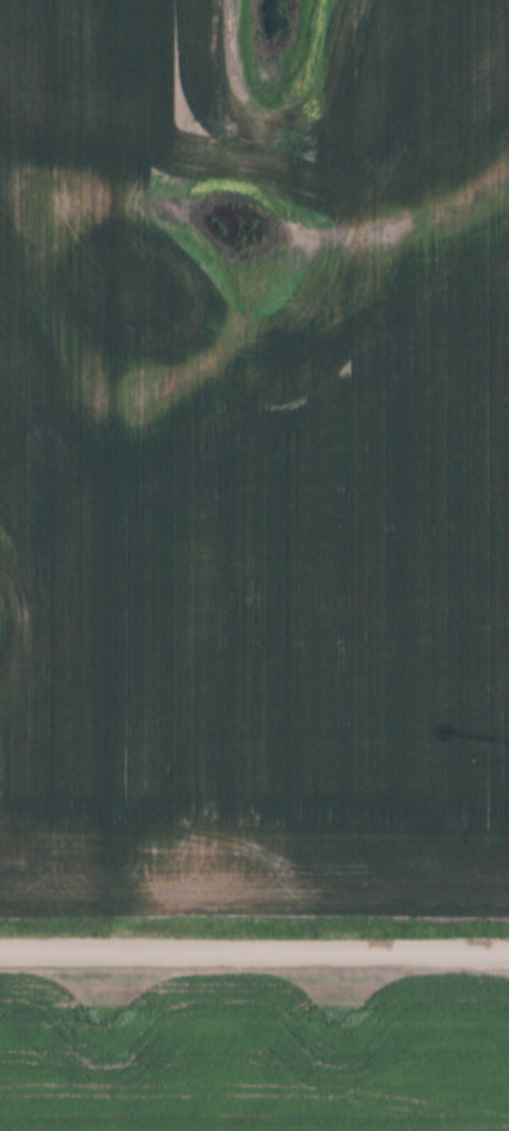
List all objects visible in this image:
road: (254, 947)

